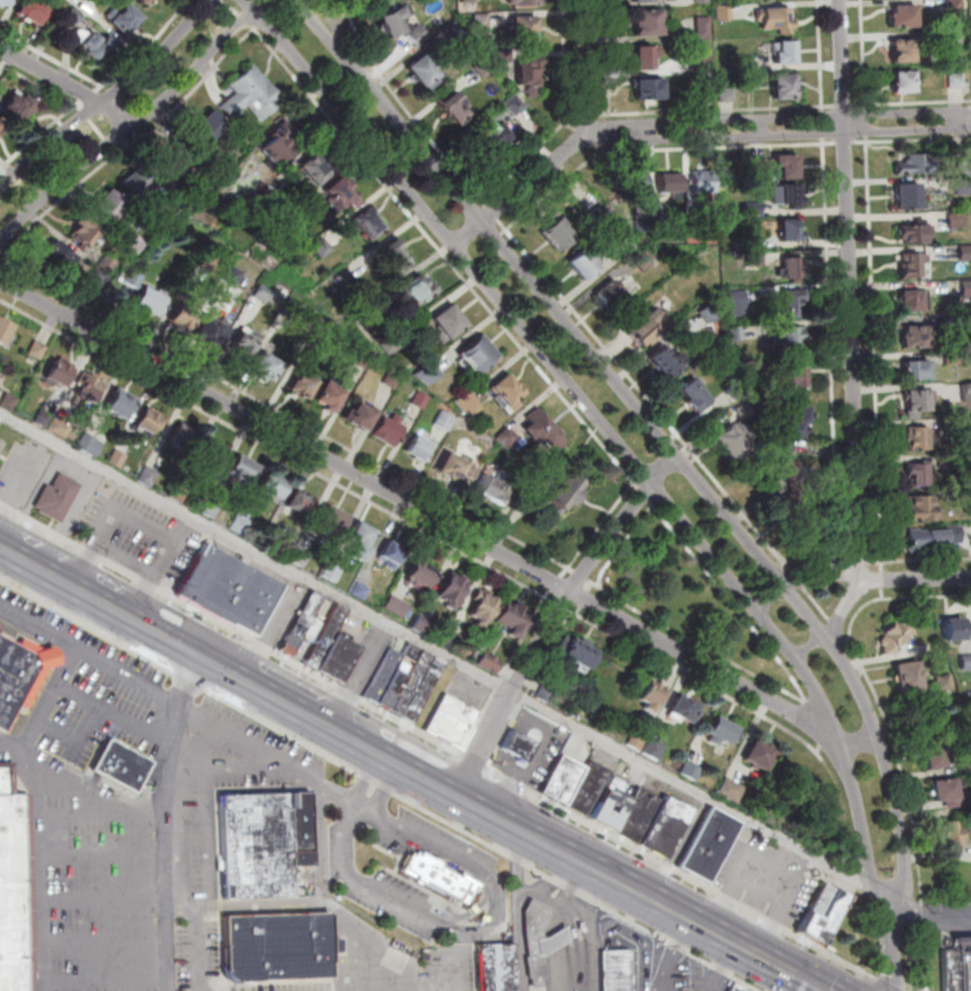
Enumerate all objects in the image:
road: (290, 0)
building: (140, 1)
building: (469, 1)
building: (704, 1)
building: (4, 2)
building: (644, 2)
building: (527, 3)
building: (955, 5)
road: (232, 7)
road: (323, 8)
building: (29, 9)
road: (281, 9)
building: (724, 11)
road: (348, 13)
building: (895, 13)
building: (70, 15)
road: (338, 15)
building: (122, 16)
building: (778, 20)
road: (248, 21)
road: (266, 22)
building: (649, 26)
road: (342, 27)
building: (402, 27)
building: (705, 27)
road: (257, 28)
building: (456, 31)
building: (521, 33)
building: (957, 40)
building: (88, 43)
building: (896, 50)
building: (786, 55)
building: (505, 56)
building: (647, 59)
building: (748, 64)
building: (484, 68)
building: (706, 68)
building: (424, 73)
building: (530, 77)
building: (897, 81)
building: (957, 81)
road: (38, 82)
road: (104, 84)
road: (69, 87)
building: (784, 90)
building: (249, 91)
building: (650, 93)
road: (89, 95)
building: (708, 95)
building: (727, 96)
road: (107, 98)
road: (867, 103)
road: (865, 104)
building: (13, 105)
road: (828, 105)
road: (846, 105)
building: (513, 107)
road: (715, 110)
building: (458, 112)
road: (779, 119)
road: (868, 122)
road: (136, 124)
building: (207, 124)
road: (825, 124)
building: (1, 125)
road: (776, 133)
road: (36, 135)
building: (490, 138)
road: (865, 142)
road: (819, 143)
road: (829, 143)
road: (847, 143)
building: (276, 145)
road: (572, 147)
building: (164, 162)
building: (904, 162)
building: (308, 167)
building: (779, 168)
building: (134, 181)
building: (705, 185)
building: (635, 186)
building: (672, 186)
building: (963, 187)
building: (338, 193)
building: (901, 194)
road: (480, 195)
building: (787, 196)
road: (485, 201)
building: (111, 208)
building: (755, 208)
road: (494, 213)
building: (601, 216)
building: (362, 221)
building: (957, 221)
building: (644, 227)
building: (660, 227)
building: (908, 229)
building: (790, 233)
building: (85, 236)
building: (560, 236)
building: (135, 242)
building: (317, 245)
building: (756, 245)
building: (965, 254)
road: (2, 259)
building: (59, 259)
building: (388, 259)
building: (211, 260)
building: (756, 260)
building: (644, 261)
building: (107, 263)
building: (903, 263)
road: (2, 265)
building: (584, 268)
building: (794, 270)
building: (234, 273)
building: (97, 276)
building: (133, 279)
building: (966, 286)
building: (411, 288)
building: (263, 290)
road: (852, 291)
road: (542, 292)
building: (280, 296)
building: (149, 297)
building: (613, 298)
building: (905, 298)
building: (739, 305)
building: (791, 306)
building: (294, 307)
building: (182, 312)
building: (711, 314)
building: (441, 321)
building: (320, 326)
building: (211, 328)
building: (651, 330)
building: (4, 331)
building: (909, 332)
building: (738, 334)
building: (790, 341)
building: (234, 346)
road: (874, 346)
building: (37, 349)
building: (471, 352)
building: (953, 357)
building: (666, 364)
building: (261, 365)
building: (754, 365)
building: (59, 369)
building: (426, 372)
building: (909, 372)
building: (796, 380)
building: (296, 383)
building: (90, 386)
building: (501, 390)
building: (738, 390)
building: (322, 394)
building: (967, 394)
building: (694, 398)
building: (909, 400)
building: (9, 401)
building: (120, 401)
building: (466, 402)
building: (747, 411)
building: (353, 415)
building: (42, 418)
road: (602, 418)
building: (0, 419)
building: (443, 419)
building: (149, 421)
building: (533, 423)
building: (60, 427)
building: (965, 427)
building: (794, 428)
building: (384, 429)
building: (912, 435)
building: (183, 437)
road: (683, 439)
building: (735, 442)
building: (1, 444)
building: (90, 444)
building: (411, 446)
building: (212, 450)
road: (278, 451)
building: (957, 454)
building: (117, 458)
building: (243, 466)
road: (74, 469)
building: (450, 470)
building: (911, 472)
building: (148, 476)
road: (637, 485)
building: (272, 486)
building: (489, 487)
building: (179, 491)
building: (967, 493)
road: (643, 494)
building: (57, 495)
building: (558, 495)
building: (791, 495)
road: (442, 498)
building: (300, 502)
road: (651, 502)
parking lot: (76, 503)
building: (913, 506)
building: (210, 507)
road: (418, 508)
road: (113, 517)
building: (332, 521)
building: (239, 526)
building: (950, 531)
building: (933, 536)
parking lot: (140, 537)
building: (362, 540)
building: (391, 553)
building: (300, 557)
road: (871, 563)
road: (787, 565)
road: (161, 567)
building: (421, 569)
road: (571, 570)
building: (332, 571)
road: (565, 572)
road: (822, 572)
road: (580, 575)
road: (916, 578)
road: (797, 579)
road: (557, 582)
road: (593, 582)
road: (588, 585)
building: (226, 588)
building: (453, 589)
building: (360, 591)
road: (928, 596)
road: (771, 597)
road: (584, 598)
road: (557, 603)
road: (819, 604)
building: (396, 605)
building: (483, 607)
road: (577, 609)
parking lot: (282, 613)
road: (554, 615)
building: (512, 616)
building: (301, 623)
building: (422, 624)
road: (838, 626)
road: (273, 628)
road: (232, 629)
road: (839, 629)
building: (310, 630)
building: (956, 630)
building: (897, 637)
building: (326, 638)
building: (452, 639)
road: (849, 640)
building: (578, 648)
road: (435, 651)
road: (88, 655)
building: (337, 658)
parking lot: (368, 659)
building: (488, 661)
building: (966, 662)
road: (181, 673)
road: (506, 673)
building: (16, 674)
road: (359, 675)
building: (908, 676)
building: (383, 677)
building: (398, 677)
road: (693, 677)
road: (767, 680)
building: (944, 681)
building: (410, 684)
building: (422, 691)
building: (547, 692)
building: (650, 692)
building: (684, 706)
building: (453, 721)
road: (811, 723)
road: (918, 727)
building: (720, 728)
road: (875, 731)
building: (637, 739)
road: (894, 739)
road: (859, 741)
road: (76, 743)
building: (520, 743)
road: (168, 745)
road: (11, 748)
building: (654, 748)
road: (816, 748)
parking lot: (550, 749)
road: (380, 752)
building: (759, 752)
building: (934, 753)
road: (475, 760)
building: (120, 764)
building: (965, 765)
building: (690, 770)
road: (367, 776)
building: (563, 776)
road: (367, 778)
road: (70, 782)
road: (377, 782)
road: (388, 787)
building: (588, 787)
building: (730, 789)
road: (385, 790)
building: (945, 790)
building: (610, 802)
road: (42, 811)
road: (105, 812)
building: (637, 814)
road: (168, 819)
building: (664, 825)
building: (952, 834)
building: (262, 841)
building: (708, 842)
road: (105, 856)
road: (463, 859)
parking lot: (414, 868)
road: (678, 872)
building: (436, 875)
parking lot: (767, 879)
building: (14, 886)
road: (579, 888)
road: (881, 892)
road: (540, 895)
road: (105, 897)
road: (318, 899)
building: (500, 906)
road: (517, 909)
building: (820, 910)
road: (920, 915)
road: (930, 919)
road: (566, 924)
road: (200, 932)
road: (354, 935)
building: (536, 939)
road: (105, 940)
road: (891, 943)
building: (275, 946)
road: (819, 952)
parking lot: (957, 954)
parking lot: (643, 956)
road: (922, 958)
road: (448, 964)
parking lot: (448, 965)
building: (492, 966)
building: (613, 969)
building: (951, 971)
road: (807, 973)
road: (788, 975)
parking lot: (703, 978)
road: (106, 982)
road: (885, 984)
building: (733, 987)

